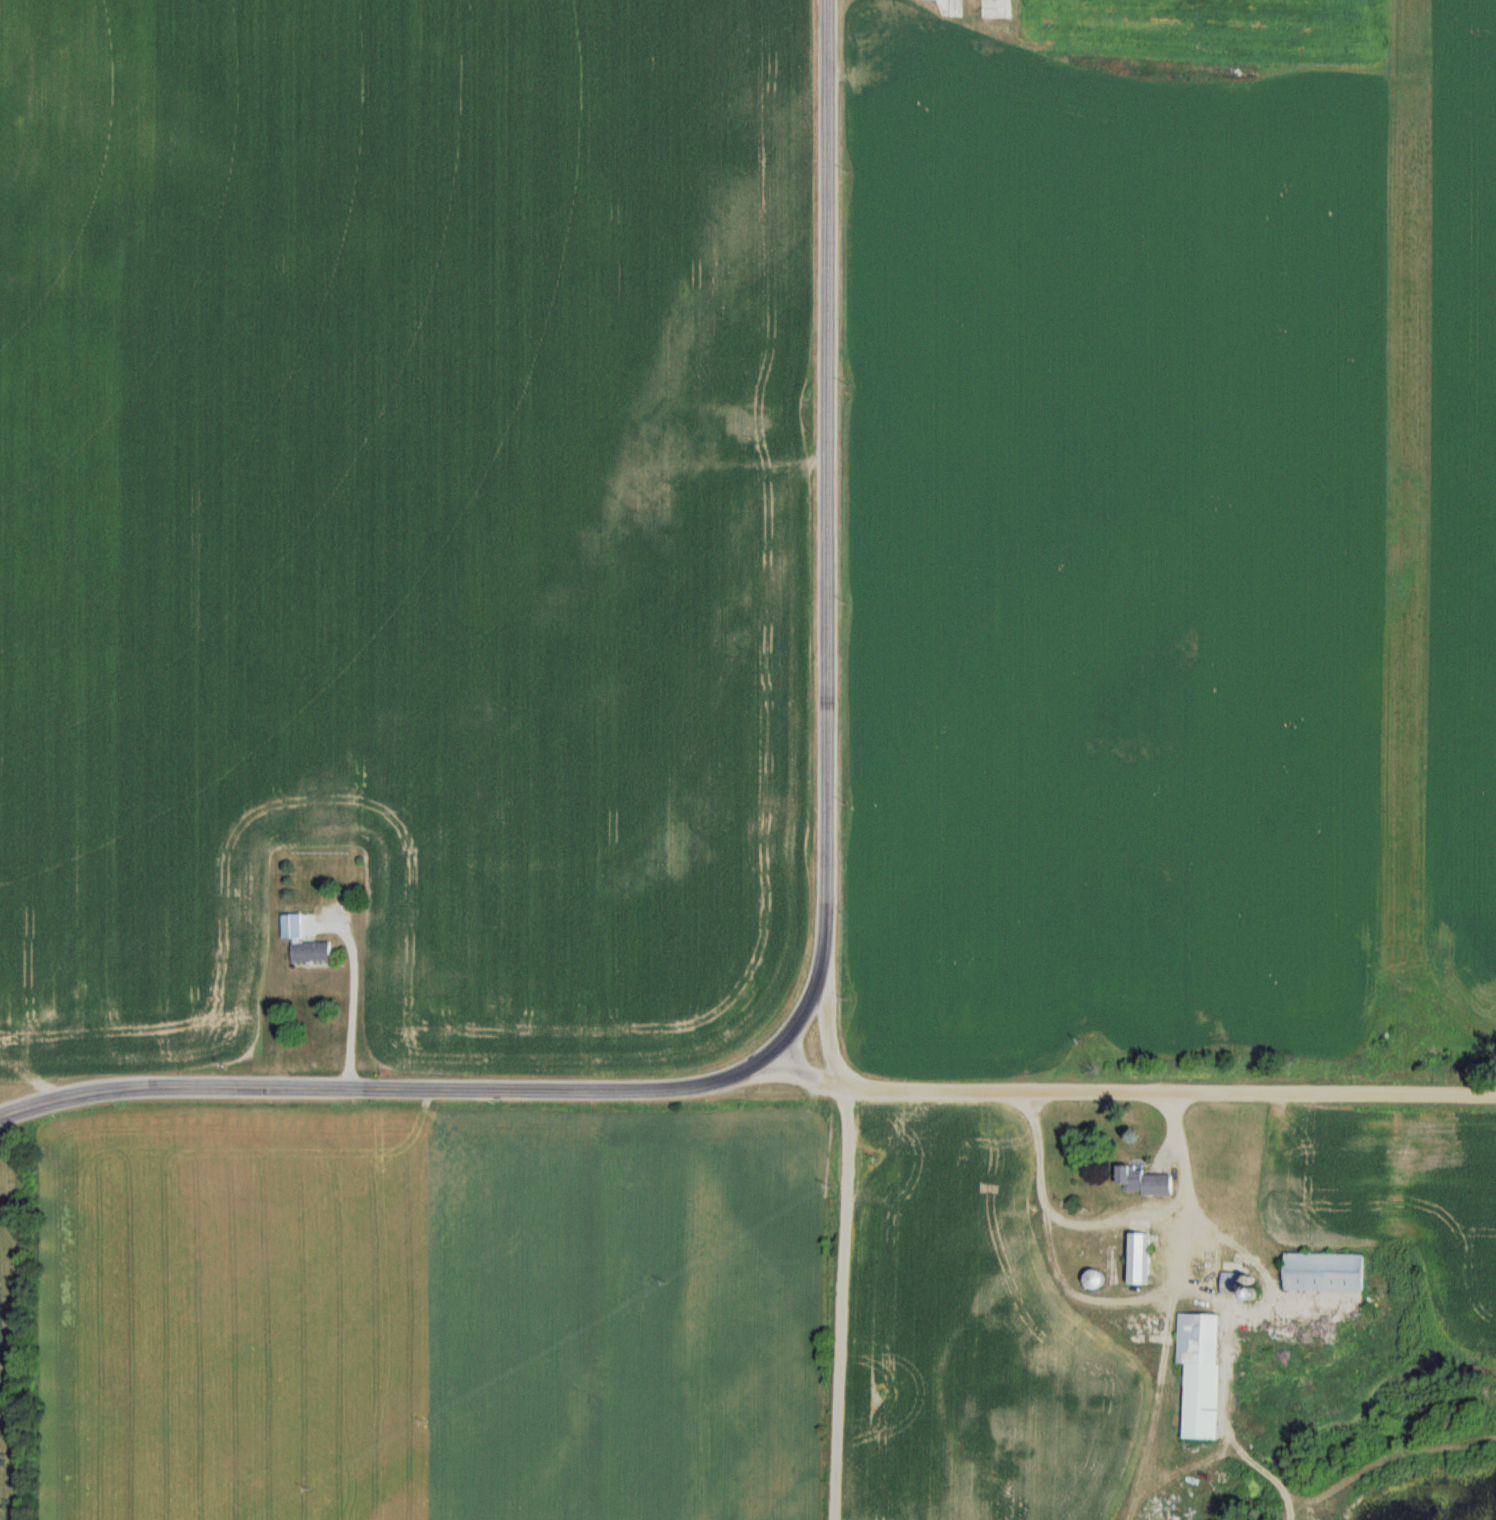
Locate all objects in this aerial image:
road: (827, 532)
building: (292, 926)
building: (312, 951)
road: (349, 999)
road: (823, 1034)
road: (392, 1086)
road: (1132, 1088)
road: (1180, 1145)
building: (1143, 1180)
road: (1210, 1238)
building: (1015, 1250)
building: (1066, 1250)
building: (1093, 1250)
building: (1139, 1258)
building: (1324, 1272)
building: (1094, 1279)
building: (1232, 1283)
road: (840, 1302)
building: (1200, 1373)

